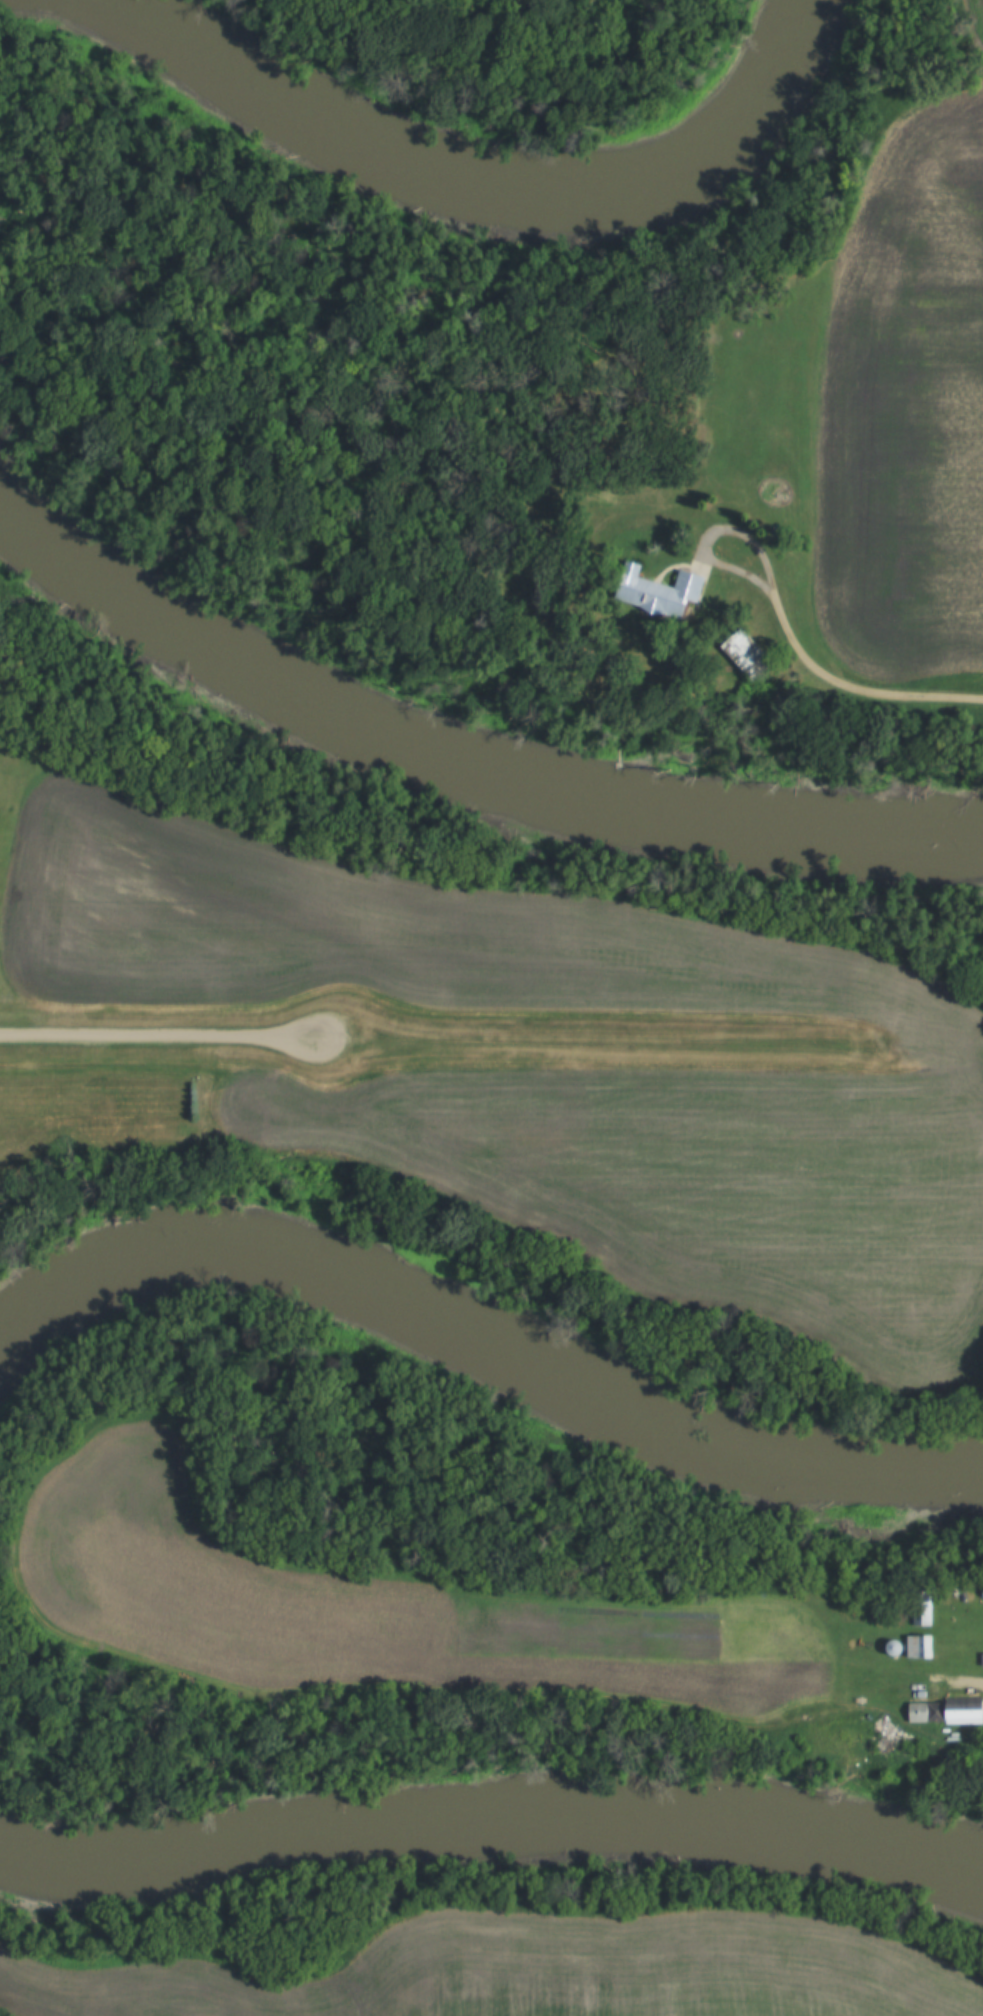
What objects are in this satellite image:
river: (455, 162)
crop: (901, 408)
road: (712, 536)
building: (657, 590)
building: (745, 654)
road: (852, 689)
river: (461, 765)
road: (160, 1034)
road: (652, 1042)
river: (484, 1341)
building: (922, 1608)
building: (918, 1645)
building: (963, 1709)
building: (925, 1711)
river: (492, 1822)

